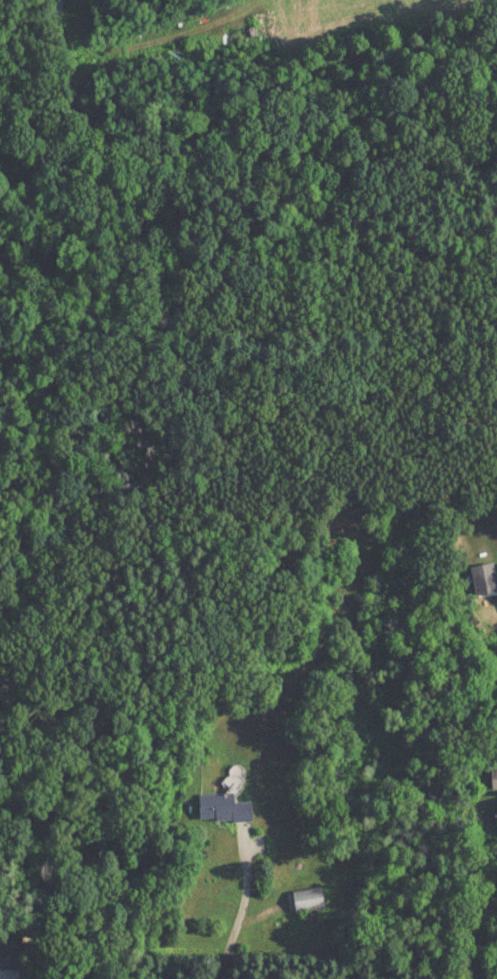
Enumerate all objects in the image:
building: (55, 13)
building: (492, 780)
building: (496, 807)
building: (221, 808)
building: (306, 900)

